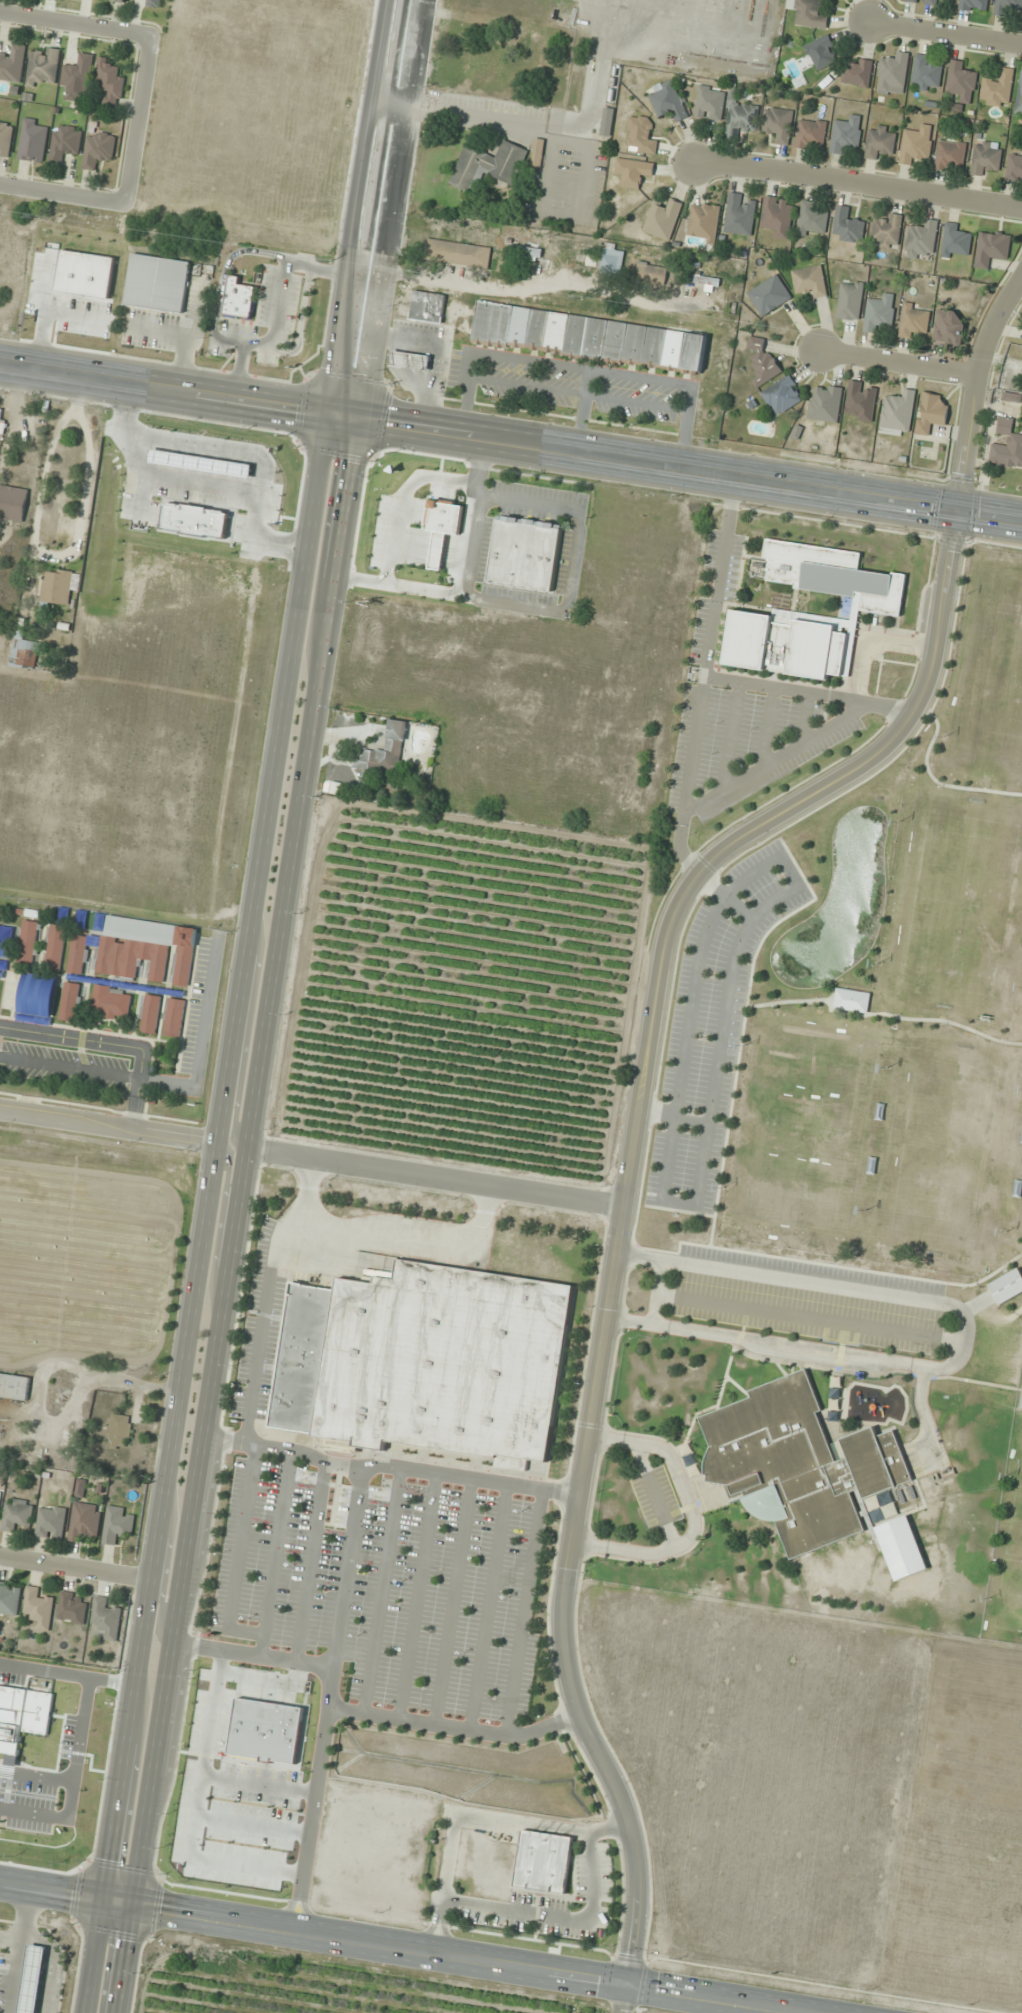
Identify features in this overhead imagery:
building: (119, 0)
building: (153, 2)
building: (935, 2)
building: (974, 5)
building: (1006, 6)
building: (809, 13)
road: (75, 24)
road: (946, 33)
building: (822, 52)
building: (12, 63)
building: (43, 66)
building: (858, 72)
building: (893, 73)
building: (926, 73)
building: (79, 75)
building: (962, 81)
building: (111, 83)
building: (997, 88)
building: (1019, 96)
building: (668, 101)
building: (710, 102)
building: (741, 118)
road: (137, 120)
building: (607, 121)
building: (778, 124)
building: (640, 134)
building: (811, 134)
building: (847, 134)
building: (5, 137)
building: (34, 140)
building: (880, 140)
building: (66, 143)
building: (916, 145)
building: (98, 149)
building: (538, 152)
building: (950, 155)
building: (986, 157)
building: (488, 165)
building: (1014, 167)
building: (633, 171)
road: (857, 185)
road: (62, 195)
road: (379, 209)
building: (504, 211)
building: (739, 214)
building: (778, 216)
building: (663, 219)
building: (812, 219)
building: (704, 221)
building: (847, 226)
building: (887, 231)
building: (922, 238)
building: (956, 239)
building: (992, 246)
building: (458, 252)
building: (526, 255)
building: (612, 260)
building: (651, 272)
road: (223, 279)
building: (809, 280)
building: (158, 283)
building: (769, 295)
building: (238, 297)
building: (850, 300)
road: (279, 304)
building: (428, 307)
building: (880, 312)
road: (300, 319)
building: (914, 320)
building: (492, 323)
building: (519, 326)
building: (950, 326)
building: (537, 328)
building: (556, 331)
building: (575, 336)
building: (594, 339)
building: (613, 341)
building: (633, 343)
building: (653, 346)
building: (673, 348)
building: (693, 353)
building: (410, 360)
road: (897, 360)
building: (763, 362)
road: (581, 367)
parking lot: (572, 382)
road: (578, 393)
building: (782, 394)
building: (1012, 397)
building: (861, 400)
building: (825, 403)
road: (582, 411)
building: (931, 413)
building: (0, 414)
building: (898, 414)
traffic signals: (348, 419)
road: (510, 444)
building: (1007, 445)
building: (13, 502)
building: (525, 553)
building: (833, 574)
building: (55, 590)
parking lot: (715, 595)
building: (785, 644)
building: (25, 648)
road: (703, 677)
park: (991, 679)
road: (807, 692)
road: (806, 718)
road: (831, 726)
road: (768, 727)
road: (731, 736)
parking lot: (745, 743)
road: (901, 749)
building: (386, 750)
road: (940, 783)
street lamp: (781, 878)
road: (708, 883)
road: (723, 896)
park: (958, 904)
street lamp: (734, 917)
building: (28, 943)
building: (55, 946)
building: (146, 948)
building: (78, 954)
building: (38, 995)
road: (789, 1000)
building: (851, 1000)
building: (71, 1001)
building: (111, 1002)
park: (868, 1002)
building: (150, 1013)
building: (174, 1017)
road: (917, 1019)
parking lot: (714, 1024)
road: (744, 1024)
street lamp: (704, 1037)
road: (248, 1038)
road: (111, 1045)
road: (660, 1062)
road: (641, 1083)
street lamp: (693, 1111)
road: (672, 1116)
road: (110, 1126)
park: (802, 1127)
park: (948, 1149)
road: (218, 1154)
road: (436, 1175)
street lamp: (681, 1193)
road: (681, 1200)
road: (679, 1211)
road: (238, 1216)
road: (220, 1222)
road: (385, 1238)
road: (633, 1239)
road: (787, 1257)
road: (986, 1276)
building: (1006, 1286)
road: (655, 1290)
parking lot: (808, 1299)
road: (809, 1314)
road: (261, 1322)
road: (964, 1338)
building: (426, 1361)
building: (14, 1385)
building: (1021, 1406)
building: (119, 1431)
building: (796, 1463)
road: (390, 1465)
park: (1019, 1471)
building: (81, 1488)
road: (653, 1493)
building: (0, 1494)
parking lot: (655, 1497)
road: (694, 1512)
building: (17, 1513)
park: (1017, 1514)
building: (85, 1521)
building: (51, 1522)
building: (119, 1524)
park: (1007, 1546)
road: (275, 1551)
road: (239, 1553)
building: (903, 1553)
road: (310, 1561)
road: (347, 1566)
road: (73, 1569)
road: (165, 1572)
road: (381, 1590)
road: (417, 1595)
park: (1010, 1595)
building: (9, 1598)
road: (452, 1600)
road: (488, 1605)
building: (38, 1607)
building: (72, 1607)
road: (523, 1611)
building: (107, 1617)
road: (324, 1716)
road: (453, 1725)
building: (43, 1746)
crop: (50, 1754)
crop: (761, 1771)
road: (541, 1827)
street lamp: (17, 1855)
building: (543, 1860)
road: (444, 1883)
road: (51, 1889)
traffic signals: (130, 1901)
road: (556, 1918)
road: (20, 1949)
road: (53, 1955)
road: (94, 1955)
road: (454, 1955)
building: (32, 1979)
gas station: (32, 1979)

